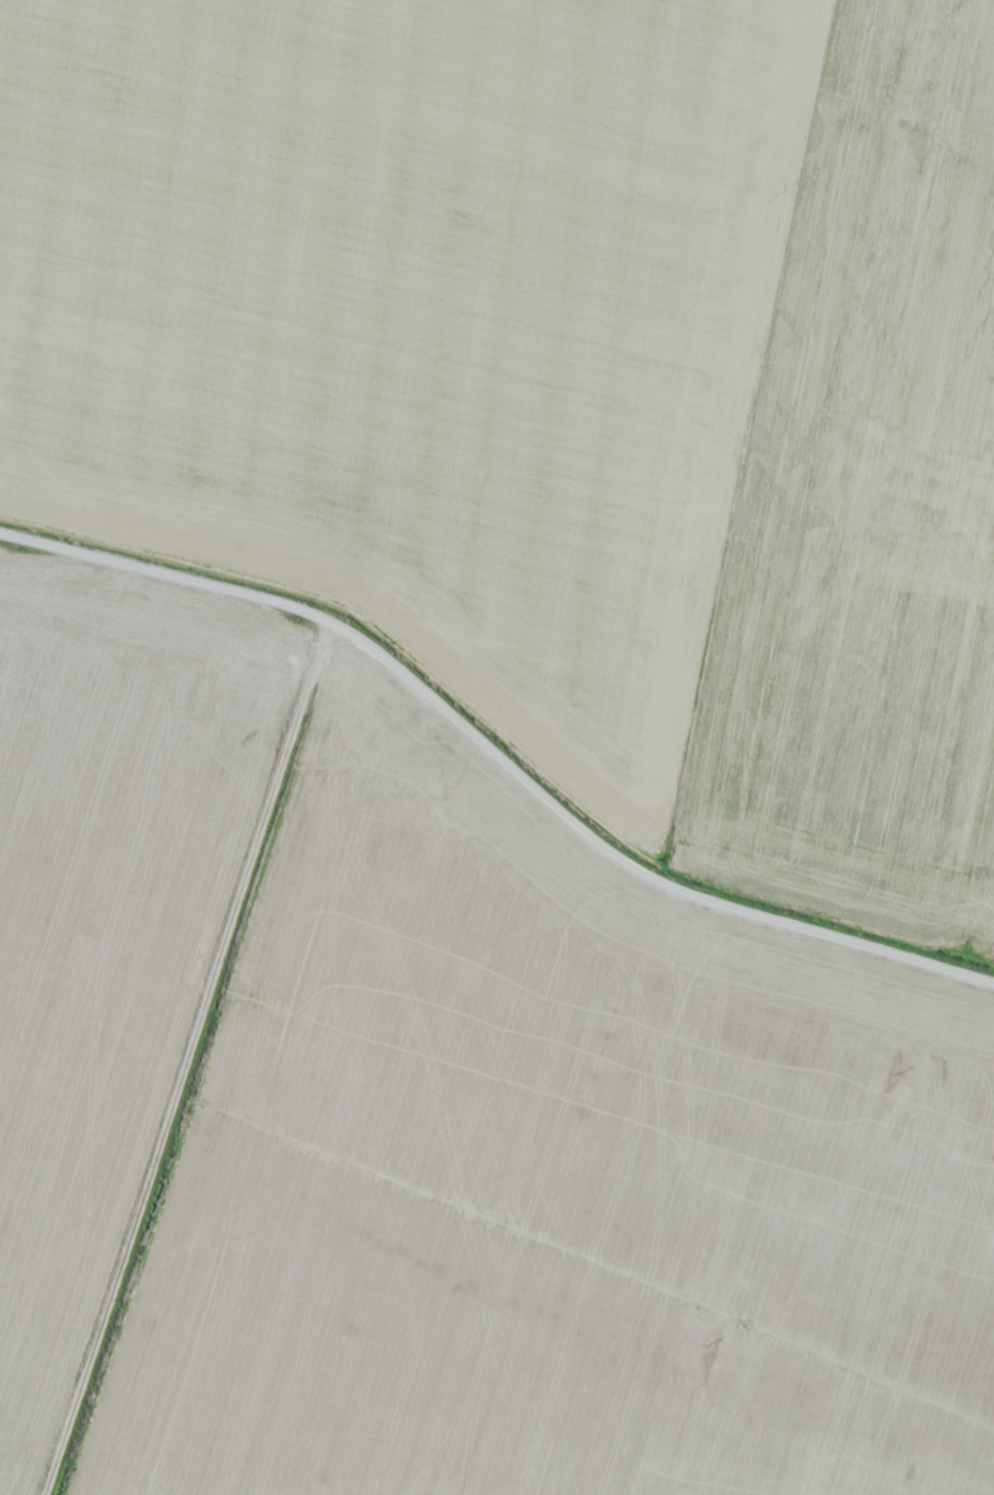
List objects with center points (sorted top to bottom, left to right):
road: (498, 753)
road: (185, 1059)

